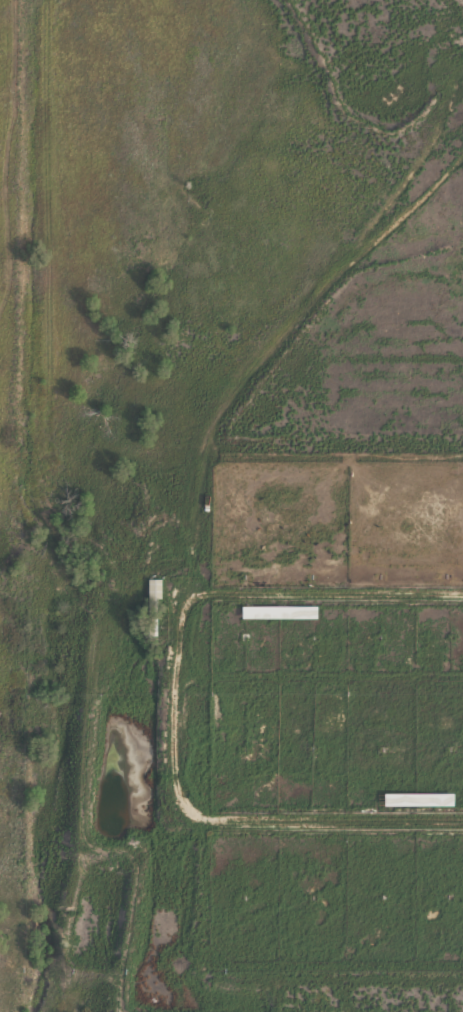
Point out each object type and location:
road: (34, 500)
building: (156, 588)
building: (280, 610)
building: (417, 797)
road: (207, 822)

